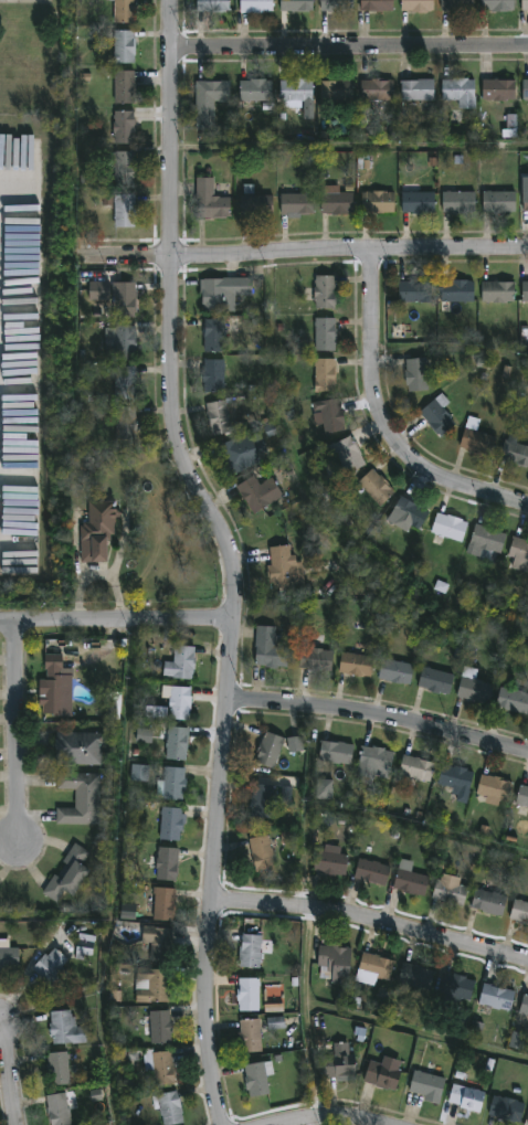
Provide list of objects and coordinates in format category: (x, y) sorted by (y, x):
building: (214, 4)
building: (257, 4)
building: (338, 4)
building: (378, 4)
building: (419, 4)
building: (458, 4)
building: (499, 4)
building: (526, 4)
building: (298, 6)
building: (125, 10)
building: (125, 45)
road: (348, 50)
building: (126, 86)
building: (379, 88)
building: (419, 88)
building: (500, 88)
building: (526, 88)
building: (297, 89)
building: (338, 89)
building: (256, 91)
building: (462, 91)
building: (210, 99)
building: (125, 126)
building: (124, 166)
building: (211, 200)
building: (526, 200)
building: (338, 201)
building: (379, 201)
building: (419, 201)
building: (461, 201)
building: (500, 201)
building: (298, 202)
building: (257, 204)
building: (126, 210)
road: (305, 257)
building: (101, 290)
building: (325, 290)
building: (415, 290)
building: (460, 290)
building: (499, 290)
building: (526, 290)
building: (224, 293)
building: (125, 298)
building: (327, 333)
building: (215, 335)
building: (122, 342)
building: (419, 372)
building: (214, 374)
building: (326, 374)
building: (125, 381)
building: (331, 415)
building: (439, 415)
building: (220, 416)
road: (389, 422)
building: (127, 423)
building: (478, 438)
building: (516, 453)
building: (348, 454)
building: (234, 455)
building: (378, 487)
building: (260, 492)
building: (411, 512)
building: (451, 527)
building: (98, 531)
building: (486, 540)
building: (519, 553)
road: (232, 558)
building: (285, 567)
road: (99, 574)
road: (115, 619)
building: (271, 648)
building: (317, 658)
building: (181, 662)
building: (358, 665)
building: (397, 670)
building: (437, 680)
building: (54, 686)
building: (475, 687)
building: (514, 700)
building: (179, 702)
building: (156, 712)
road: (378, 715)
road: (22, 731)
building: (144, 735)
building: (178, 743)
building: (295, 744)
building: (82, 749)
building: (270, 749)
building: (337, 752)
building: (374, 764)
building: (419, 768)
building: (139, 773)
building: (456, 778)
building: (176, 783)
building: (496, 787)
building: (324, 789)
building: (286, 794)
building: (522, 795)
building: (82, 799)
building: (263, 800)
building: (172, 824)
building: (262, 852)
building: (331, 860)
building: (168, 863)
building: (372, 872)
building: (71, 874)
building: (412, 882)
building: (451, 891)
building: (490, 902)
building: (166, 904)
building: (520, 911)
road: (370, 919)
building: (156, 934)
building: (85, 945)
building: (251, 952)
building: (9, 956)
building: (335, 964)
building: (378, 967)
building: (53, 969)
building: (418, 977)
building: (152, 986)
building: (457, 986)
building: (250, 995)
building: (498, 997)
building: (524, 1005)
building: (275, 1022)
building: (161, 1027)
building: (66, 1029)
building: (251, 1036)
building: (517, 1040)
building: (339, 1062)
building: (160, 1066)
building: (59, 1070)
building: (383, 1076)
building: (258, 1078)
road: (10, 1079)
building: (429, 1086)
building: (468, 1099)
building: (169, 1107)
building: (60, 1110)
building: (508, 1110)
road: (335, 1116)

